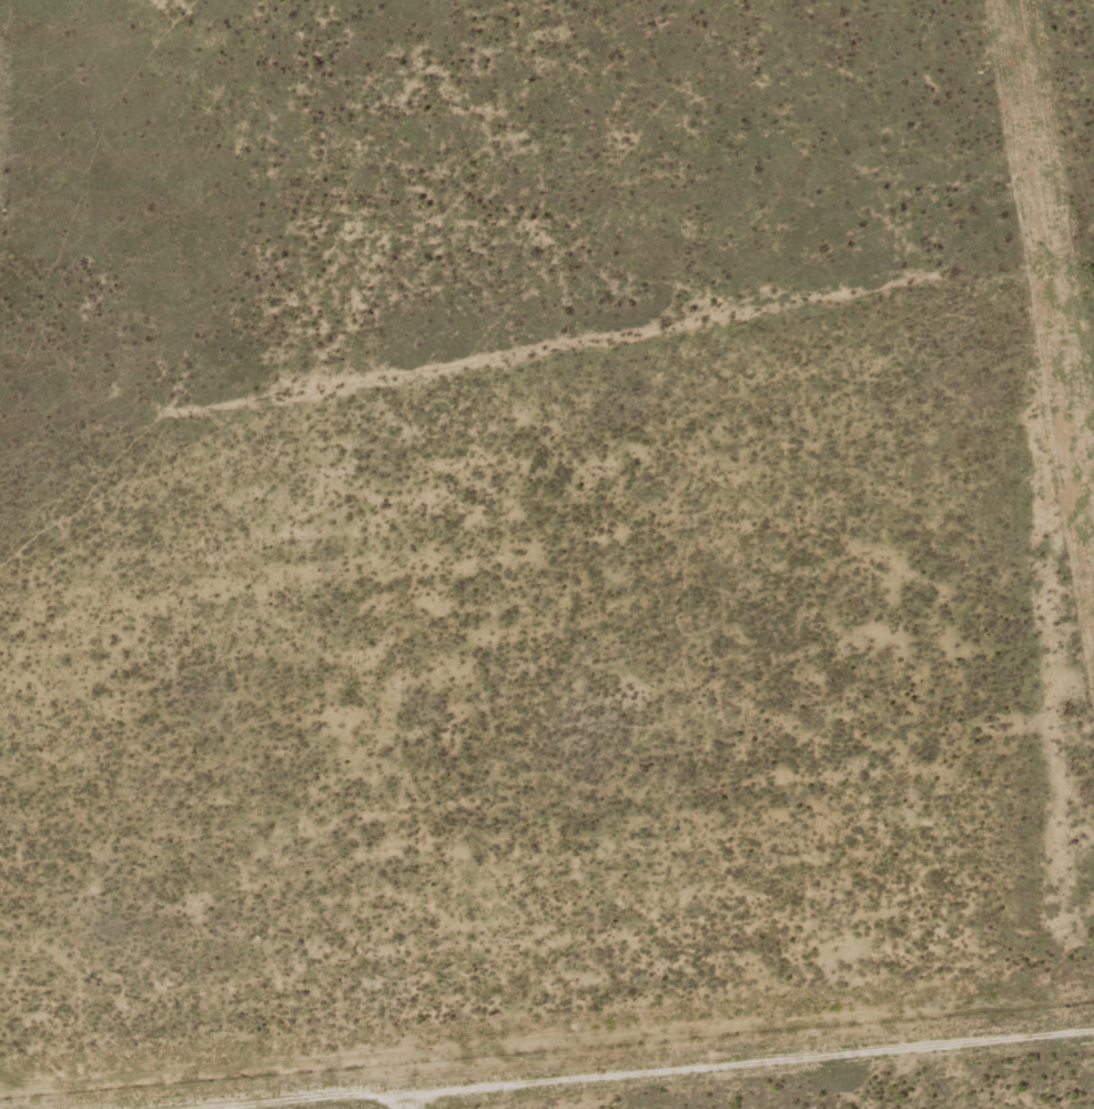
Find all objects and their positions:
road: (255, 1035)

